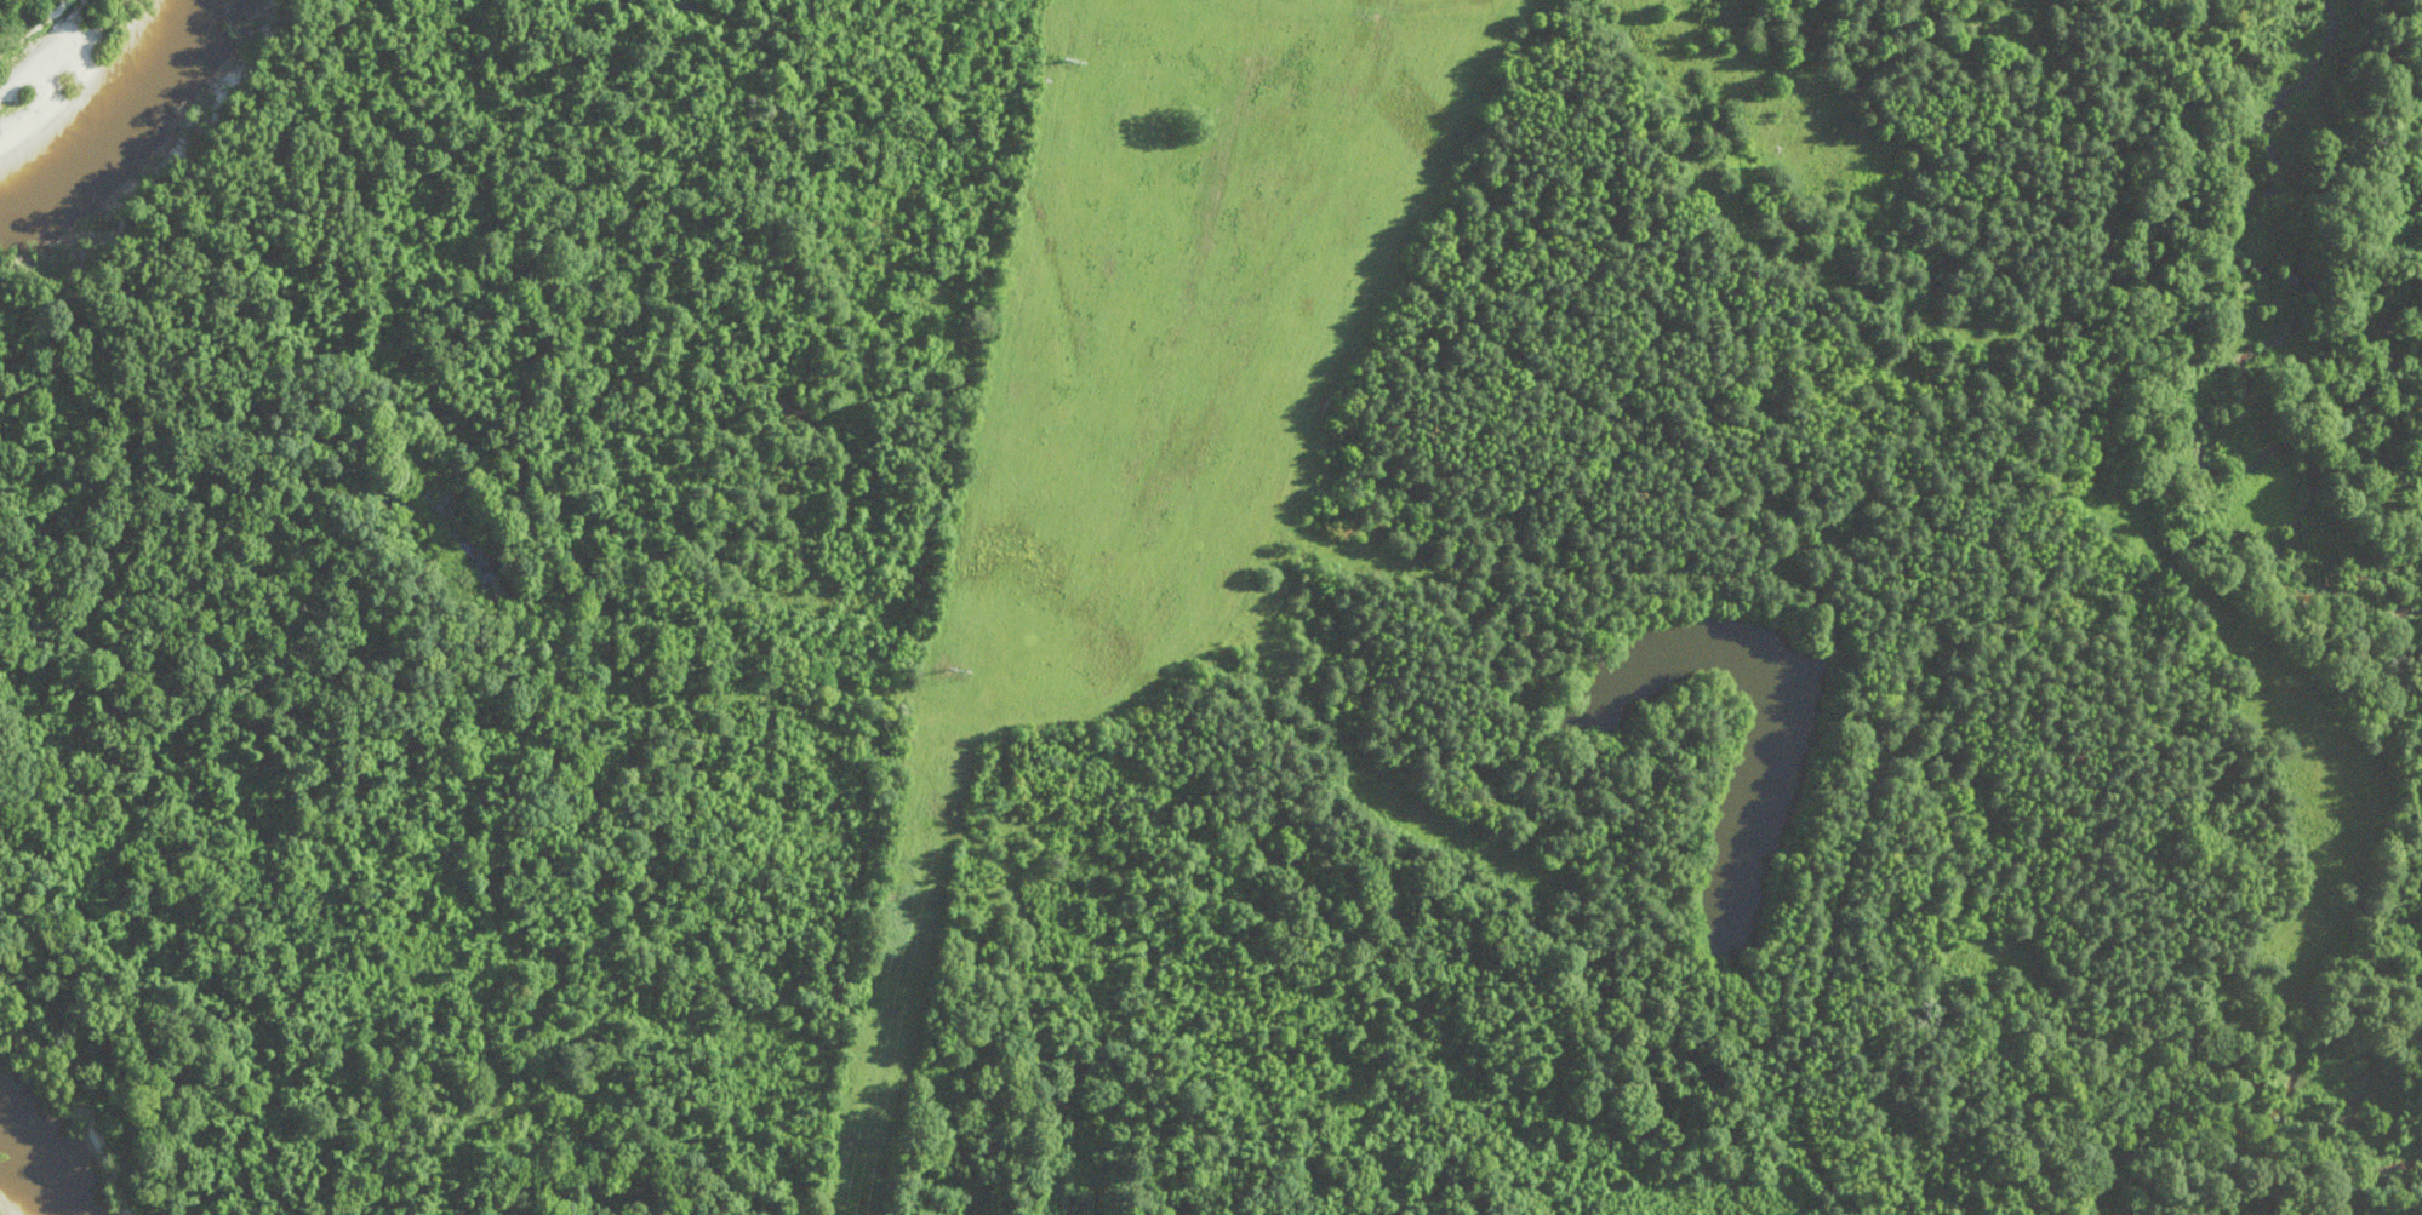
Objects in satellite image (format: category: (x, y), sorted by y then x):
river: (110, 96)
river: (38, 1159)

